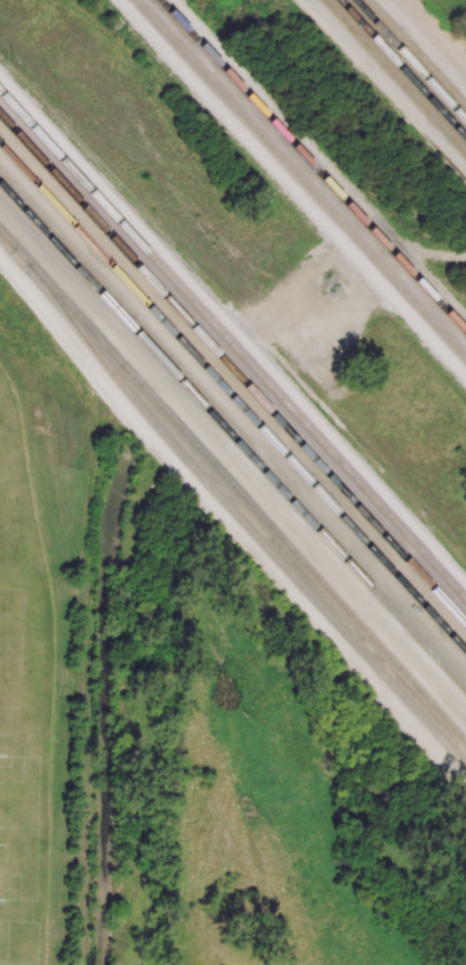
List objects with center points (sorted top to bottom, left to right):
railway: (417, 52)
railway: (213, 59)
railway: (411, 59)
railway: (402, 68)
railway: (396, 75)
road: (388, 84)
railway: (373, 91)
railway: (307, 160)
railway: (65, 238)
railway: (358, 238)
railway: (24, 256)
railway: (54, 290)
railway: (233, 346)
railway: (232, 369)
railway: (231, 396)
railway: (232, 435)
railway: (298, 492)
park: (2, 626)
park: (16, 843)
park: (16, 950)

